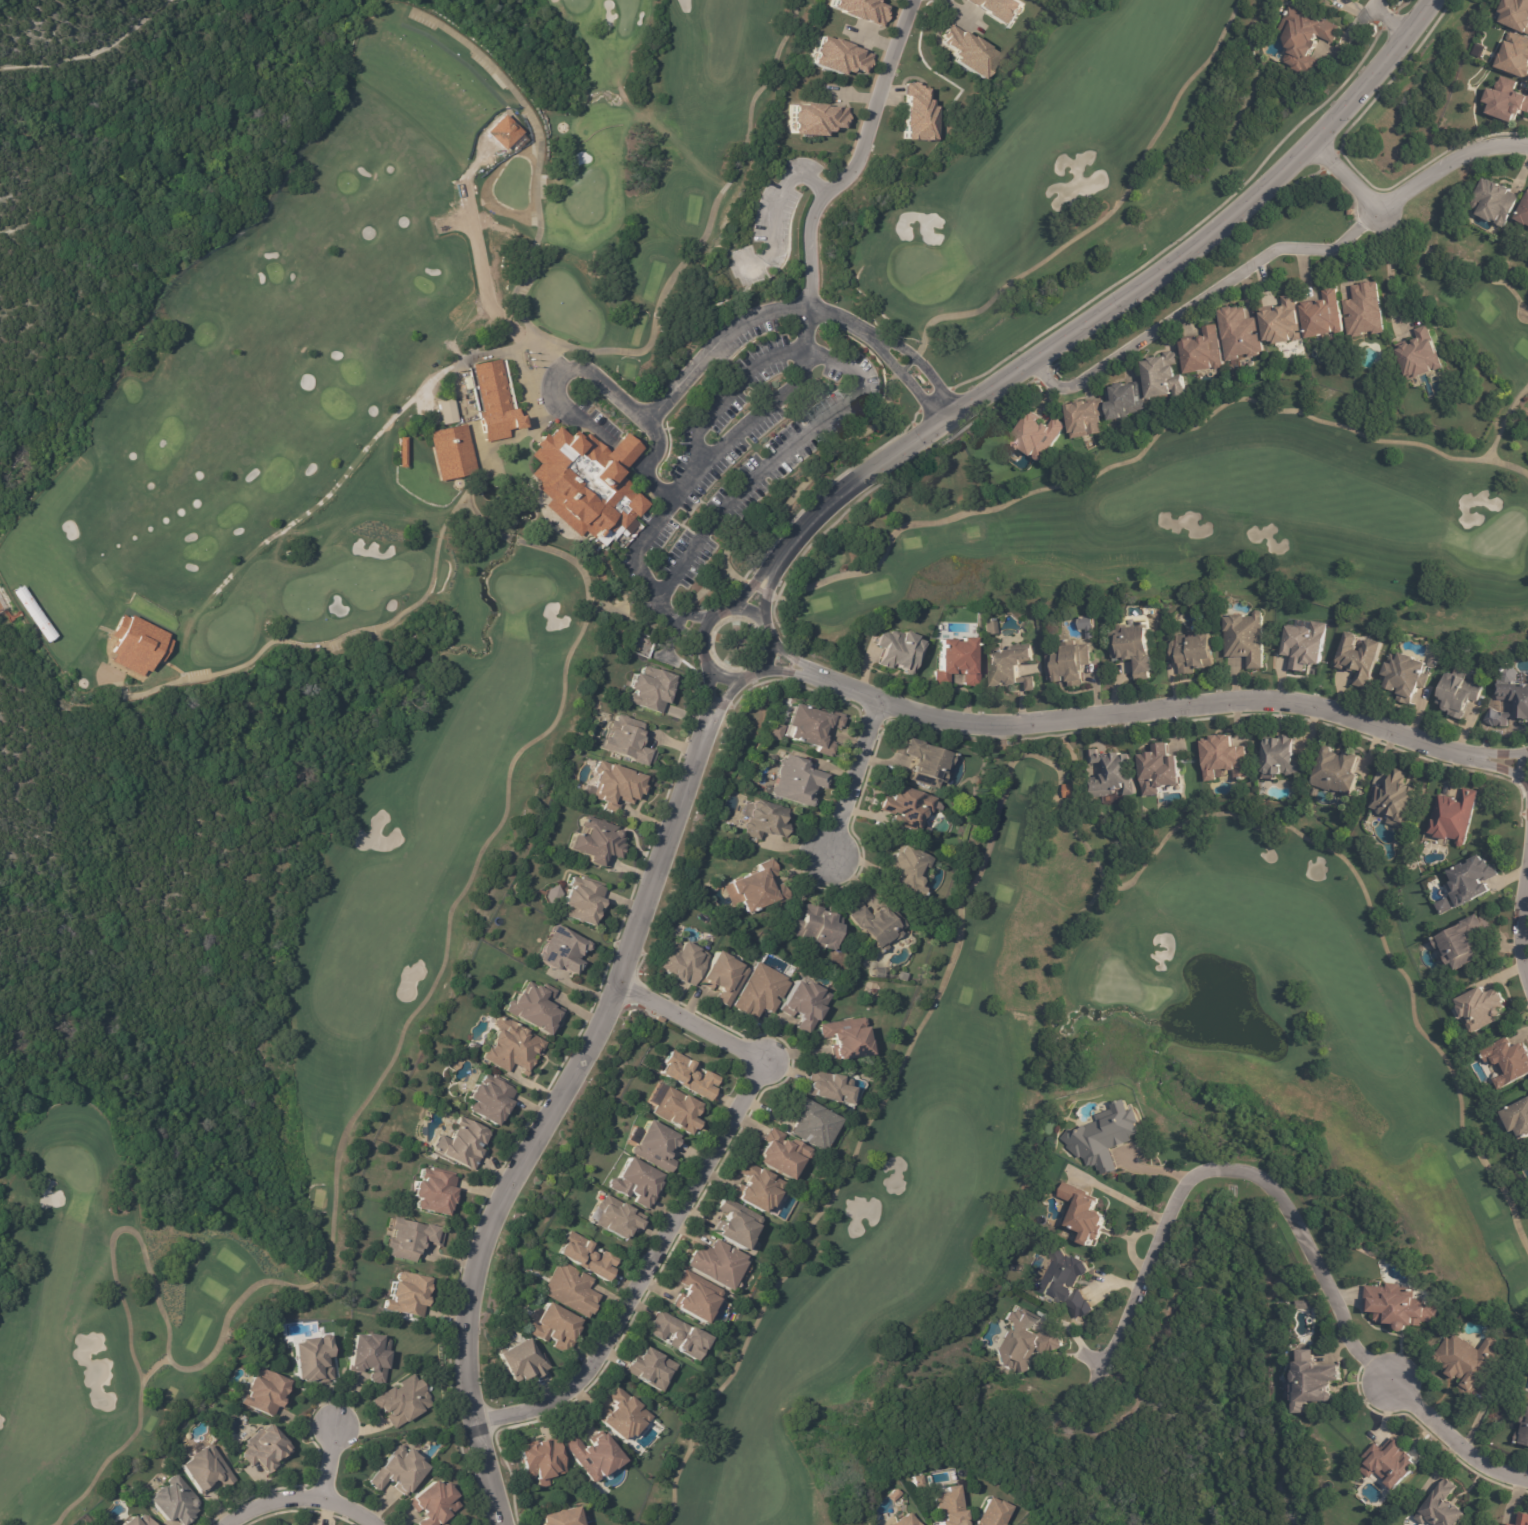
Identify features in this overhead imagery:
building: (859, 10)
building: (999, 10)
building: (1515, 15)
road: (1383, 20)
building: (1304, 40)
building: (965, 52)
building: (837, 56)
building: (1515, 57)
building: (1506, 102)
building: (915, 113)
building: (815, 118)
park: (1019, 156)
road: (862, 163)
road: (1403, 190)
building: (1495, 205)
building: (1523, 216)
road: (1389, 274)
road: (1122, 302)
road: (1199, 309)
building: (1364, 310)
building: (1322, 315)
building: (1282, 321)
building: (1239, 333)
building: (1202, 351)
building: (1420, 355)
road: (924, 367)
road: (590, 374)
building: (1163, 376)
road: (906, 382)
building: (497, 397)
building: (1125, 400)
building: (1085, 418)
building: (1036, 435)
parking lot: (719, 437)
building: (450, 449)
building: (398, 452)
building: (584, 482)
park: (1250, 505)
building: (21, 549)
road: (753, 583)
building: (28, 587)
road: (770, 590)
road: (693, 616)
building: (1087, 623)
building: (990, 625)
road: (685, 631)
park: (349, 632)
building: (1245, 636)
building: (641, 643)
building: (1304, 644)
building: (135, 645)
building: (1133, 649)
road: (702, 651)
building: (1192, 651)
building: (900, 652)
road: (793, 656)
building: (958, 659)
building: (1358, 659)
building: (1067, 663)
building: (1011, 667)
road: (788, 671)
building: (1405, 675)
building: (648, 691)
building: (1459, 693)
road: (708, 694)
road: (723, 701)
building: (1522, 706)
road: (1165, 715)
building: (1497, 718)
building: (808, 726)
building: (774, 731)
building: (624, 739)
building: (1224, 757)
building: (1281, 757)
building: (920, 759)
building: (1336, 768)
building: (1158, 769)
road: (1521, 769)
building: (1112, 772)
building: (795, 780)
road: (859, 782)
building: (613, 783)
building: (1070, 790)
building: (1395, 798)
building: (901, 804)
building: (1454, 815)
building: (762, 817)
building: (595, 839)
building: (904, 870)
building: (1472, 879)
building: (753, 888)
building: (578, 899)
building: (1444, 905)
road: (1524, 918)
building: (870, 923)
building: (813, 928)
building: (1461, 941)
building: (560, 950)
building: (679, 959)
building: (875, 971)
building: (720, 976)
building: (758, 991)
building: (801, 1002)
building: (532, 1006)
building: (1481, 1007)
building: (658, 1018)
building: (843, 1037)
building: (508, 1044)
building: (1508, 1060)
building: (687, 1076)
building: (824, 1085)
building: (489, 1099)
building: (676, 1111)
building: (1518, 1117)
road: (543, 1119)
park: (1316, 1119)
building: (808, 1121)
building: (1103, 1137)
building: (456, 1142)
building: (654, 1146)
building: (778, 1153)
road: (1233, 1169)
building: (636, 1183)
building: (755, 1187)
building: (433, 1189)
road: (686, 1197)
building: (1084, 1212)
building: (615, 1217)
building: (735, 1225)
building: (406, 1237)
building: (583, 1257)
building: (714, 1263)
building: (1063, 1282)
building: (570, 1289)
building: (404, 1294)
building: (695, 1297)
building: (1302, 1305)
building: (1397, 1307)
building: (553, 1328)
building: (678, 1336)
building: (1022, 1342)
building: (366, 1357)
building: (313, 1361)
building: (520, 1361)
building: (1468, 1361)
building: (649, 1368)
building: (1311, 1382)
building: (263, 1392)
building: (400, 1401)
building: (620, 1415)
building: (1524, 1430)
road: (1450, 1439)
building: (230, 1447)
building: (265, 1449)
building: (593, 1454)
building: (537, 1459)
road: (325, 1462)
building: (1389, 1463)
building: (203, 1469)
building: (397, 1470)
building: (918, 1481)
road: (300, 1498)
building: (170, 1502)
building: (432, 1503)
building: (949, 1506)
building: (1441, 1508)
building: (992, 1512)
building: (480, 1515)
building: (555, 1516)
building: (1523, 1519)
building: (904, 1520)
building: (137, 1521)
building: (1510, 1524)

